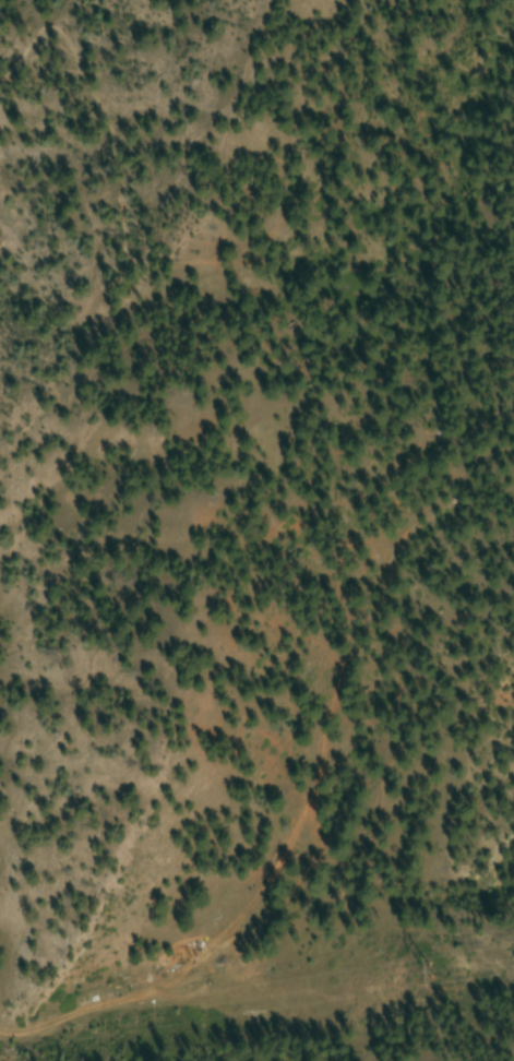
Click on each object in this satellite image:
power tower: (429, 973)

